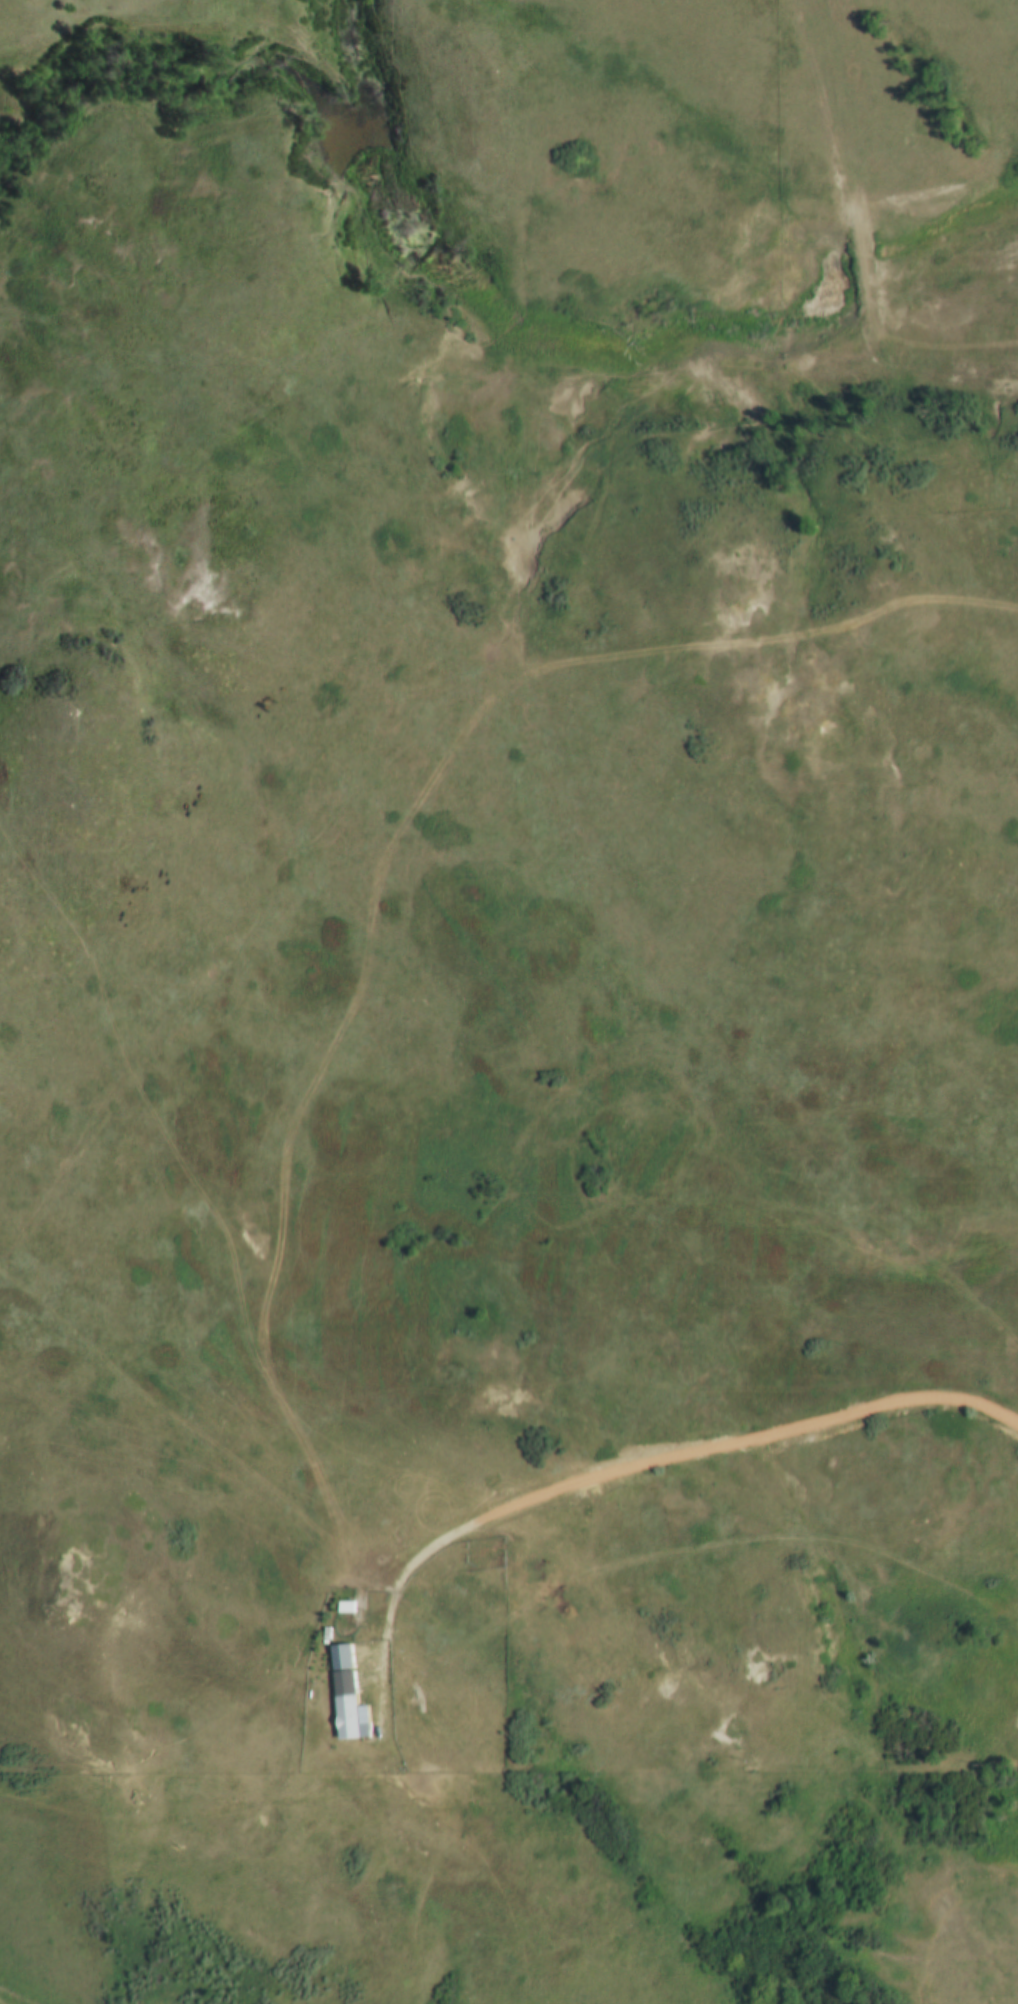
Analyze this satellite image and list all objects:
road: (635, 1467)
building: (344, 1605)
building: (337, 1655)
building: (347, 1705)

